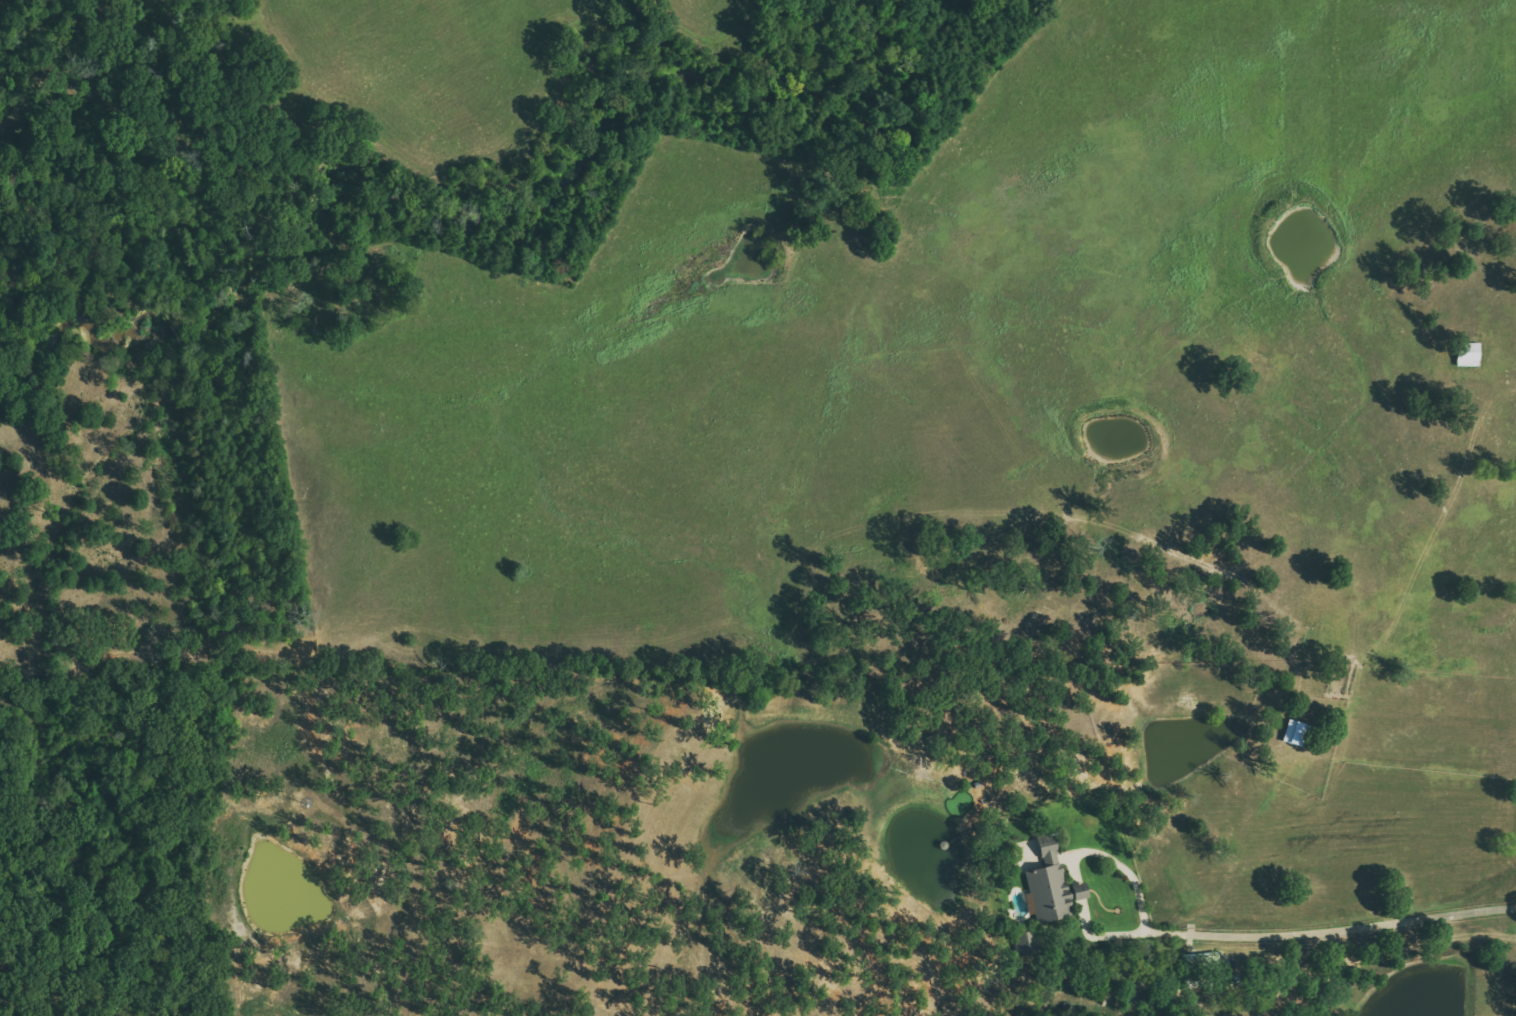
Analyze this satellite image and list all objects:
building: (1471, 356)
building: (1298, 733)
road: (1119, 858)
road: (1076, 887)
building: (1053, 888)
road: (1286, 929)
building: (1028, 943)

